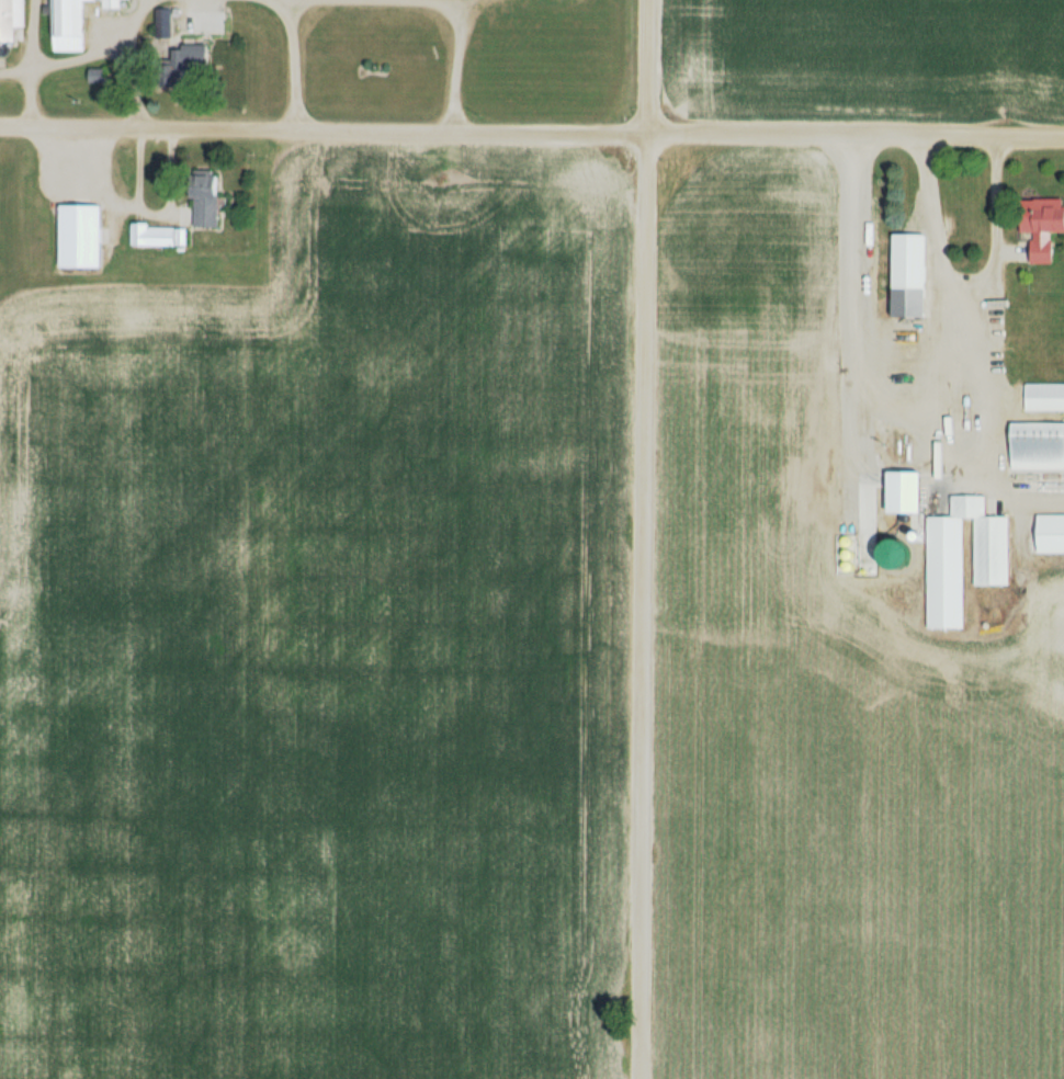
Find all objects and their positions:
building: (114, 3)
building: (11, 19)
building: (166, 22)
building: (71, 24)
road: (87, 54)
building: (196, 56)
road: (455, 58)
road: (292, 65)
road: (26, 95)
road: (532, 133)
building: (208, 197)
building: (1044, 225)
building: (160, 235)
building: (84, 236)
road: (931, 237)
building: (912, 274)
building: (930, 399)
building: (959, 425)
road: (941, 441)
building: (1039, 445)
road: (1000, 488)
building: (909, 491)
building: (1052, 533)
road: (641, 538)
building: (965, 558)

